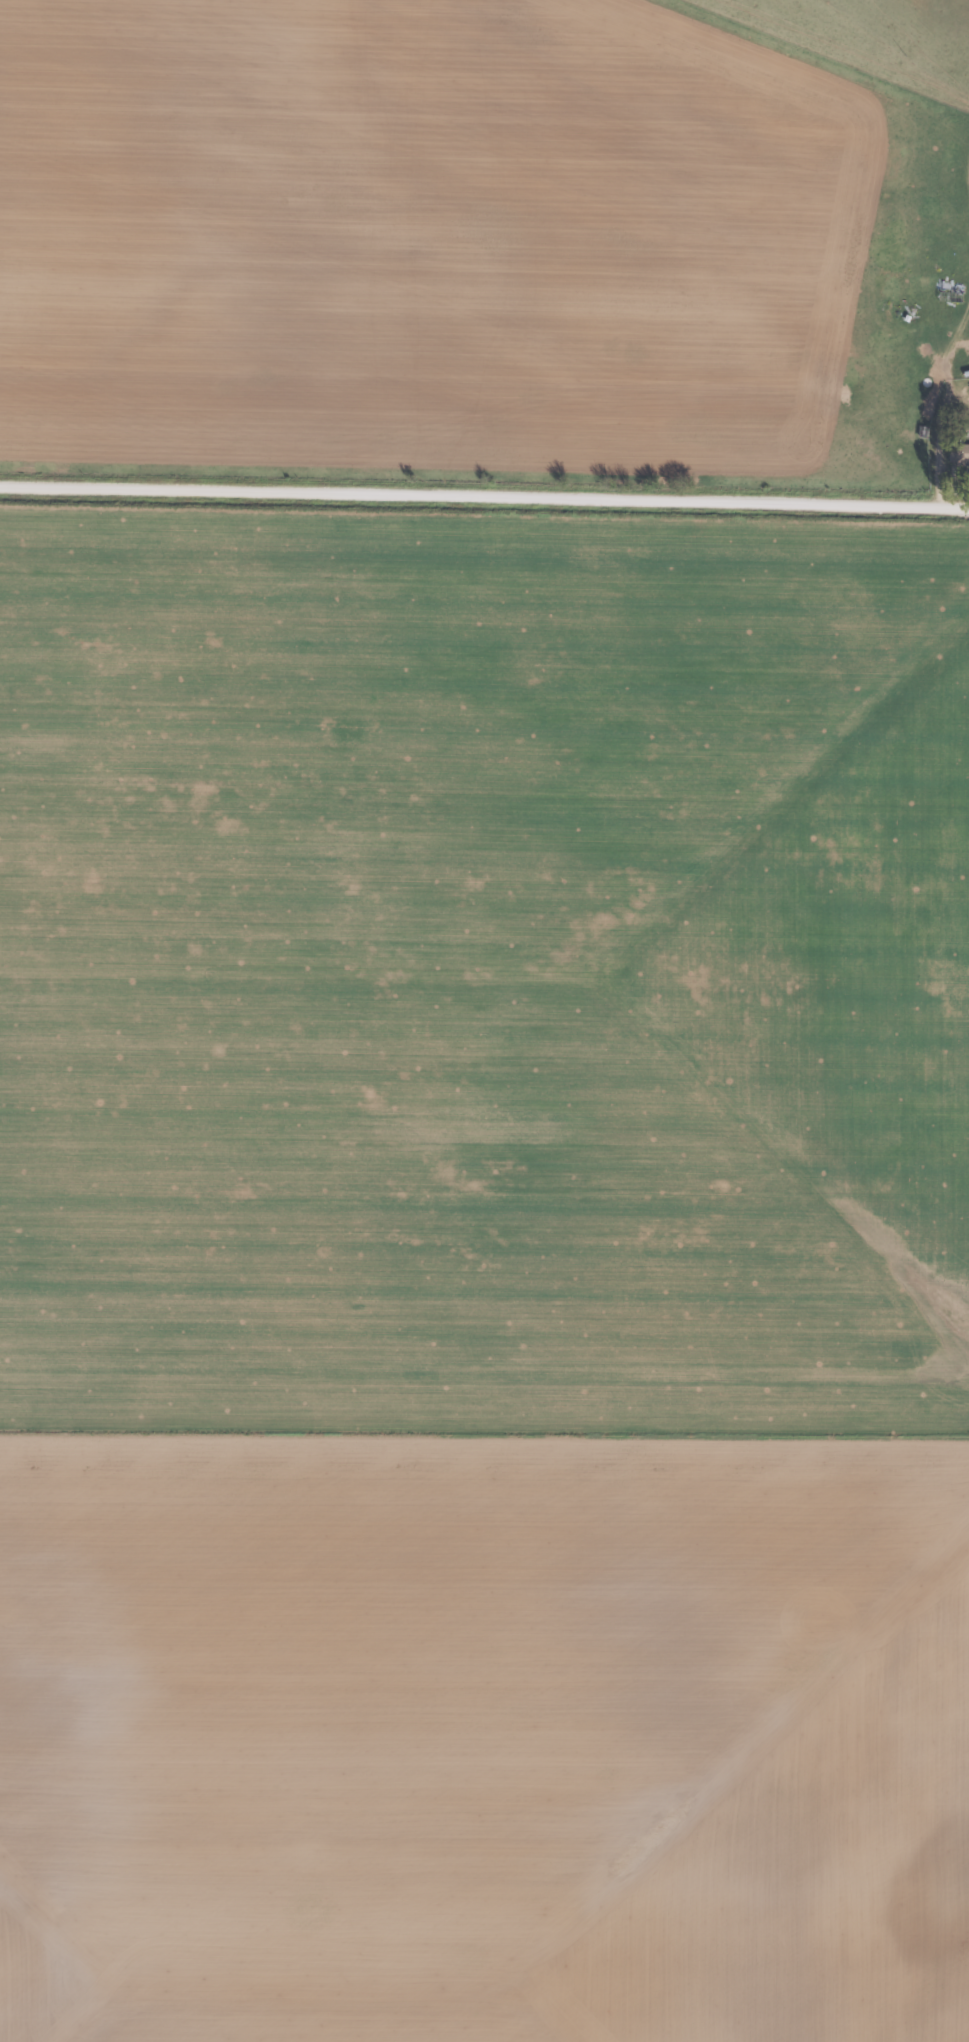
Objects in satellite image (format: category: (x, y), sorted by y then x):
building: (953, 295)
building: (960, 455)
road: (484, 503)

